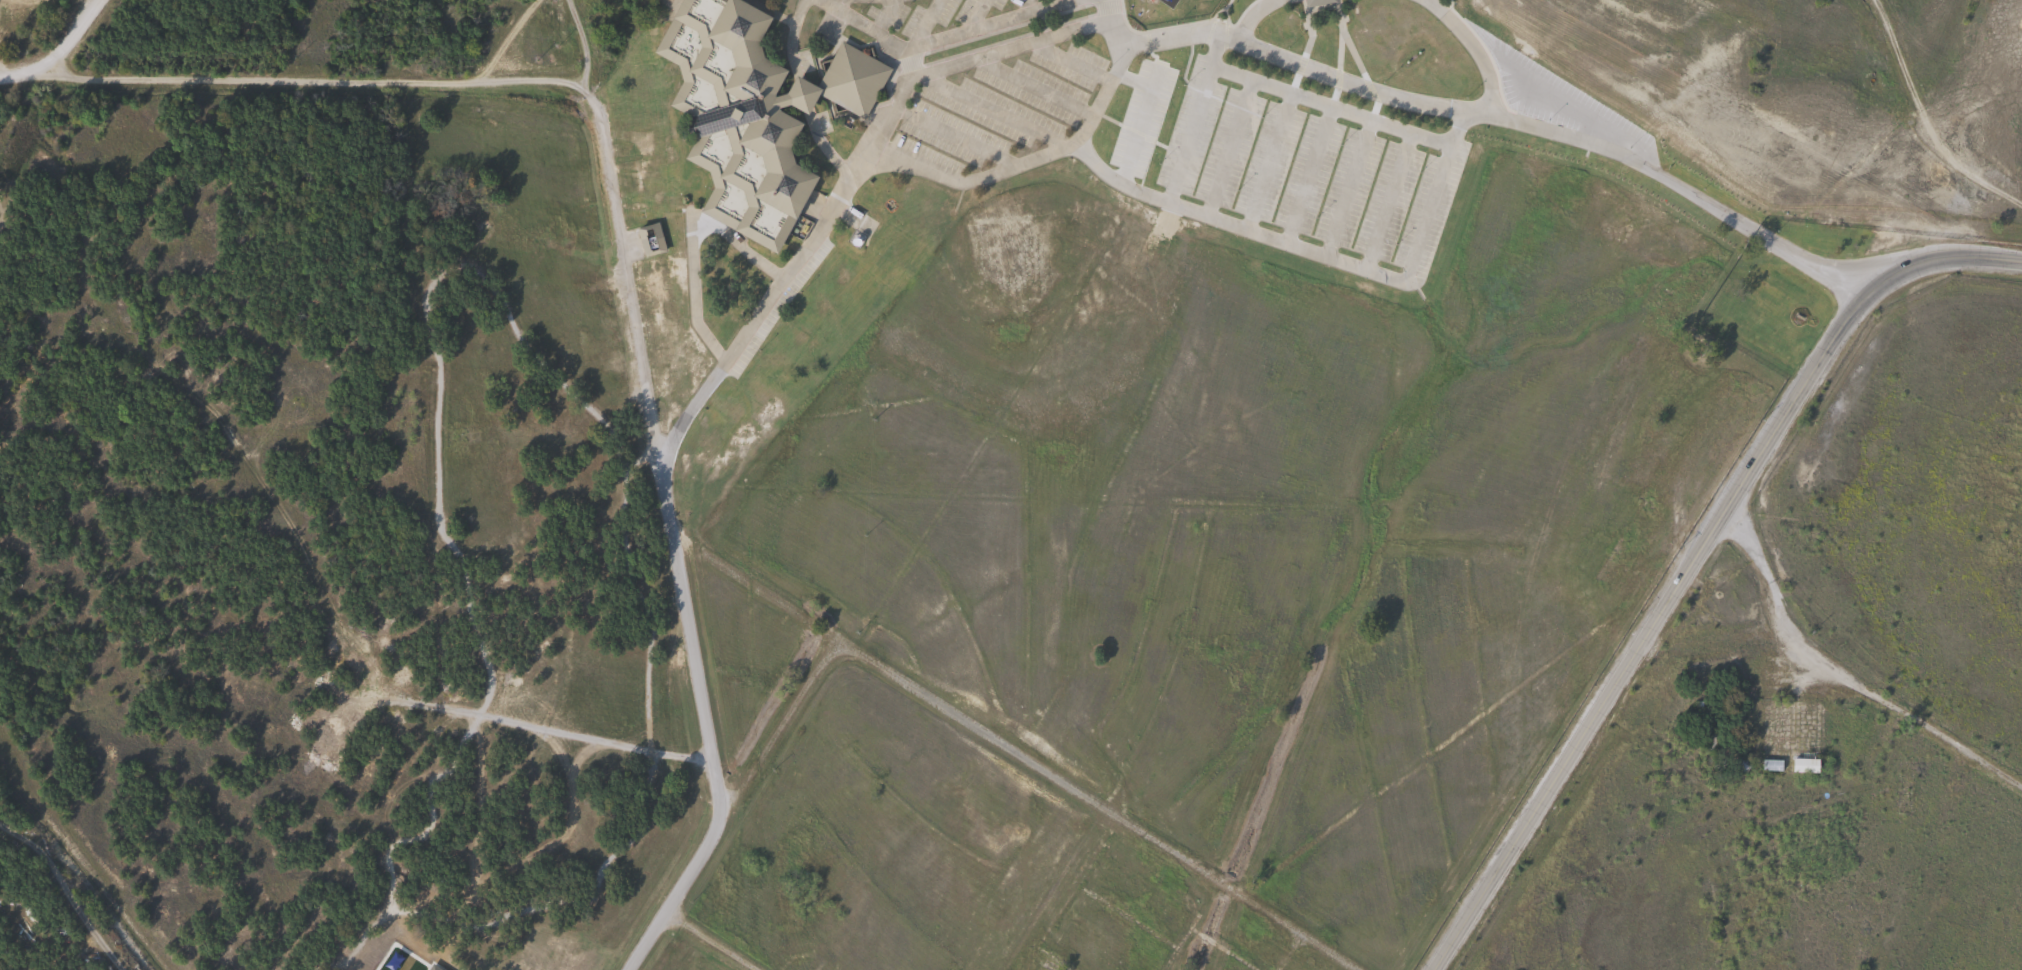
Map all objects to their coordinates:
road: (1105, 2)
building: (1314, 2)
road: (1253, 14)
road: (883, 16)
road: (866, 26)
road: (921, 29)
road: (792, 32)
road: (1474, 50)
road: (22, 73)
road: (313, 80)
road: (40, 82)
road: (1330, 107)
building: (749, 112)
road: (1193, 115)
road: (1494, 115)
road: (882, 118)
road: (1020, 165)
building: (648, 239)
road: (1317, 254)
road: (1807, 263)
road: (648, 408)
road: (1698, 556)
road: (1844, 674)
building: (1803, 762)
road: (727, 804)
road: (1094, 806)
road: (70, 856)
road: (728, 933)
building: (429, 967)

